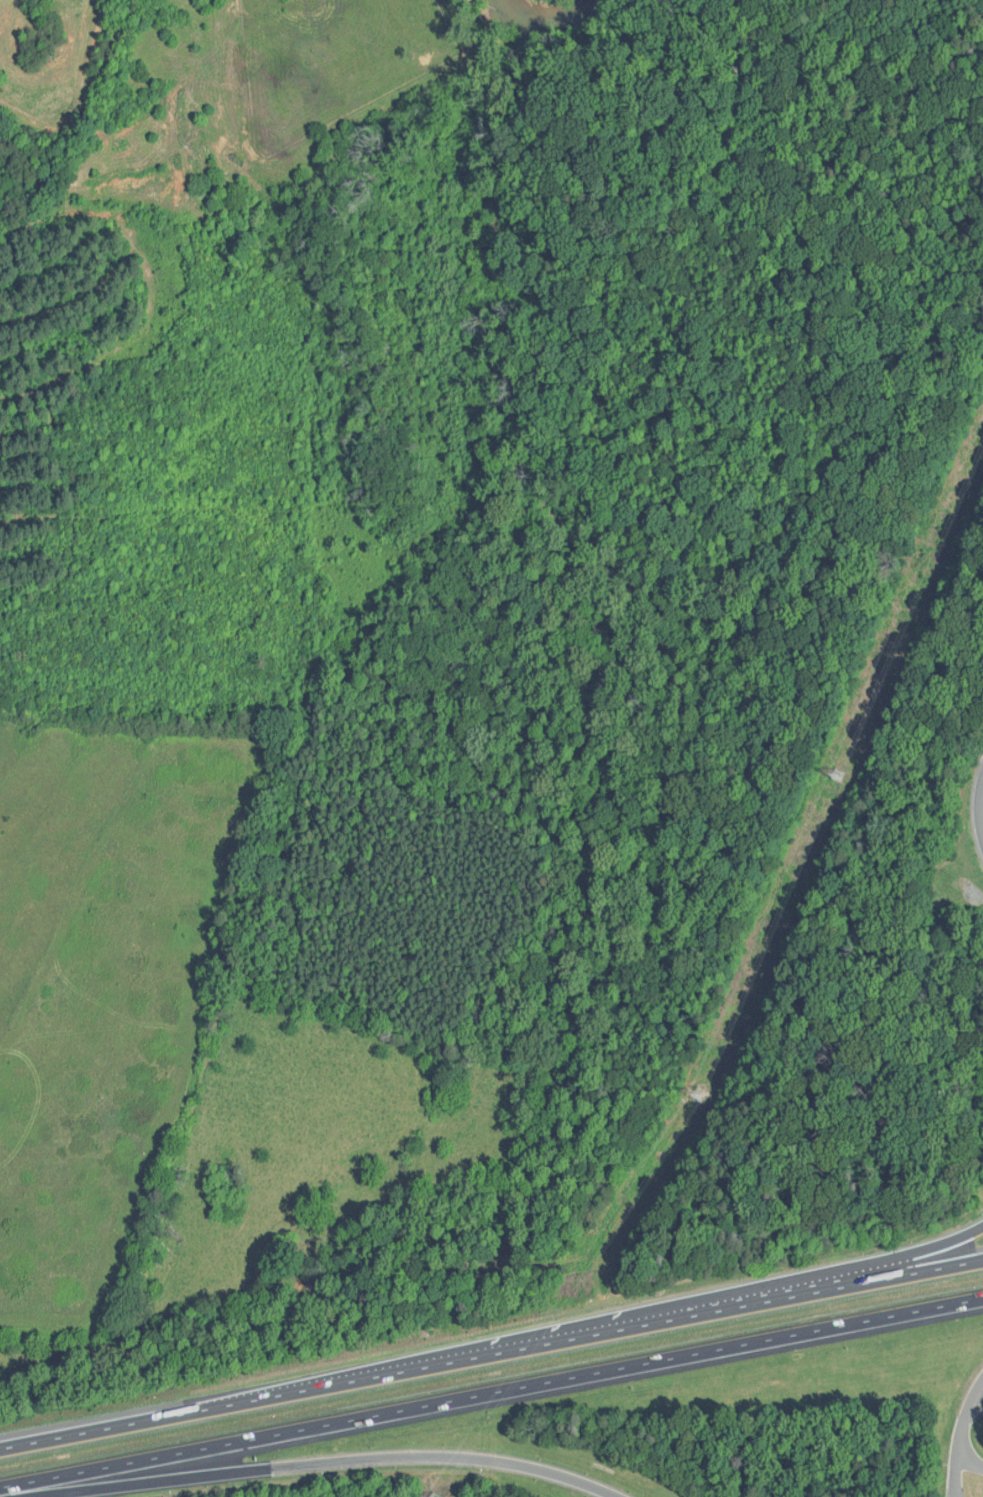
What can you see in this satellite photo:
road: (980, 810)
road: (729, 1297)
road: (491, 1354)
road: (491, 1393)
road: (968, 1409)
road: (967, 1456)
road: (325, 1461)
road: (957, 1468)
parking lot: (954, 1492)
building: (432, 1495)

